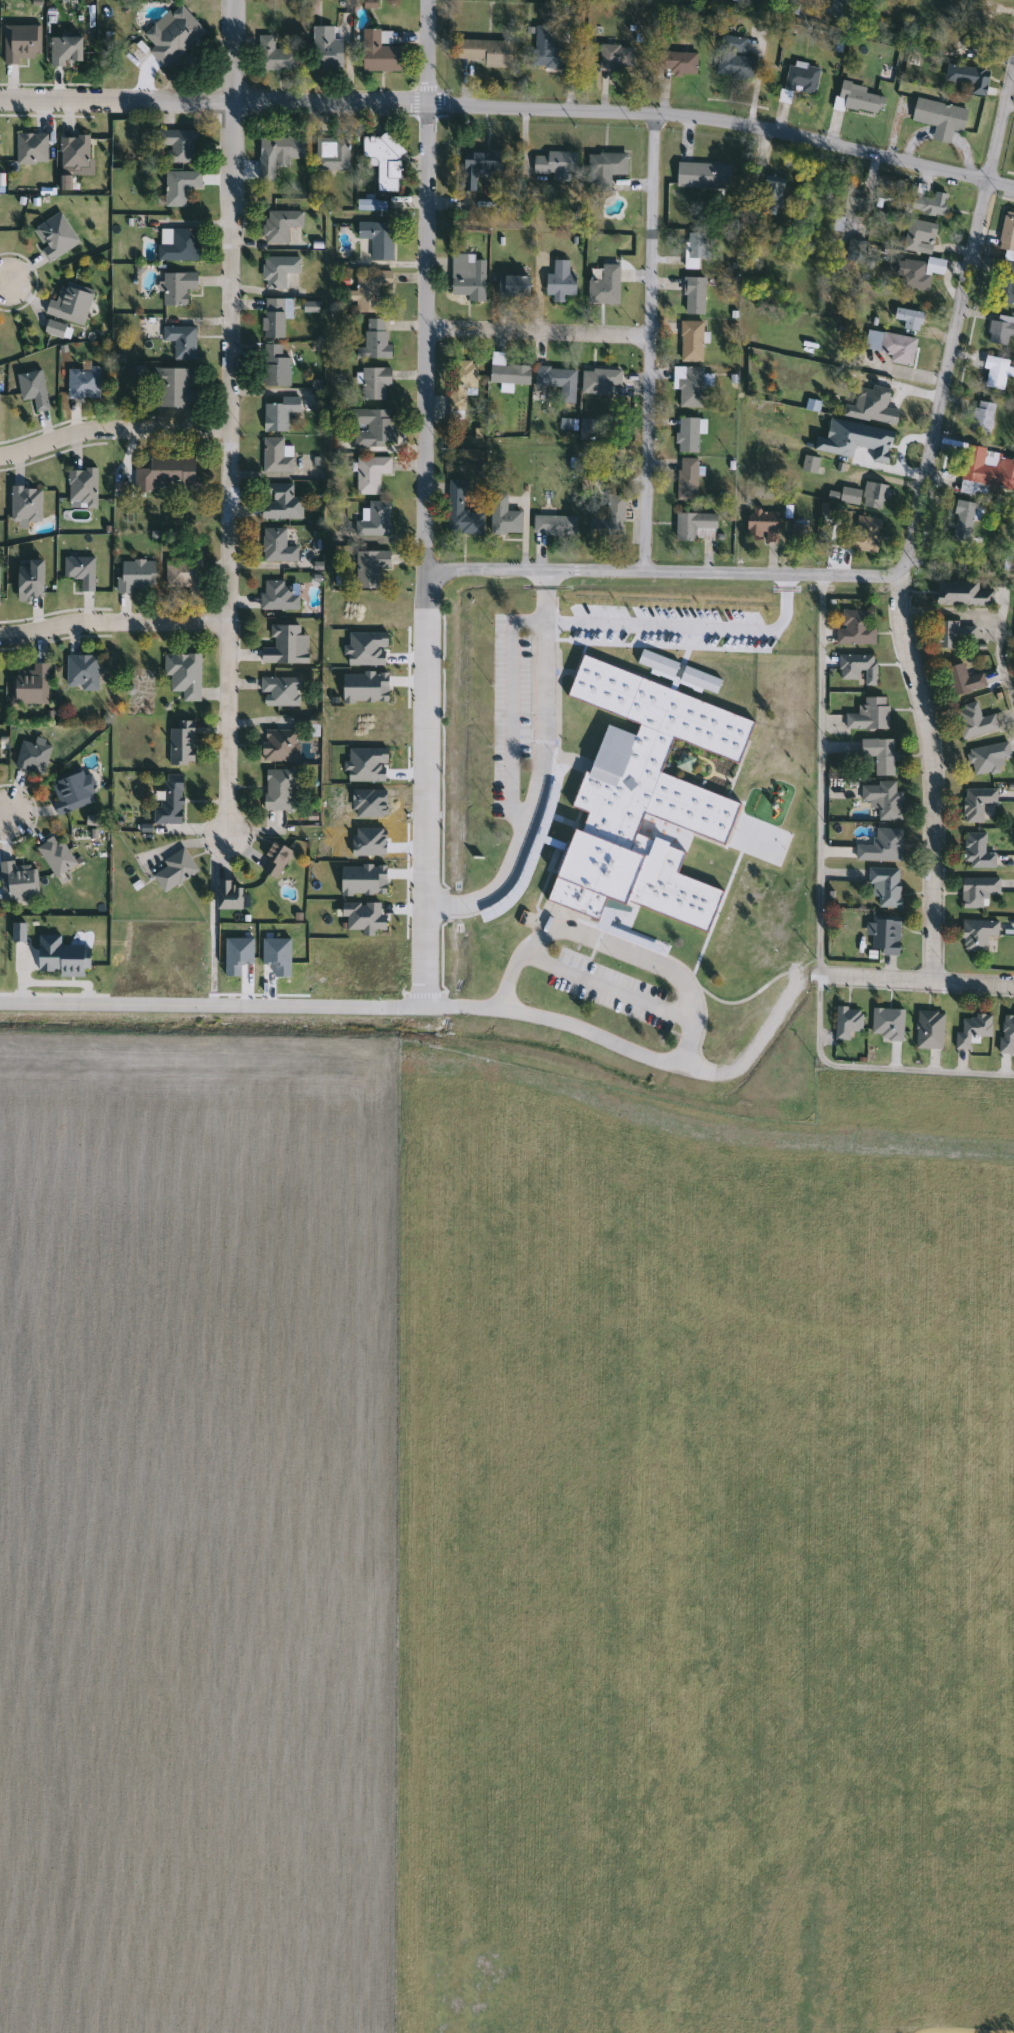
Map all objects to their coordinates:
building: (979, 19)
building: (172, 36)
building: (20, 43)
building: (546, 50)
building: (975, 51)
building: (64, 52)
building: (484, 52)
building: (326, 53)
building: (378, 53)
building: (274, 55)
building: (615, 57)
building: (733, 59)
building: (674, 60)
building: (971, 79)
building: (796, 80)
road: (49, 100)
building: (859, 100)
road: (559, 110)
building: (938, 118)
building: (178, 145)
building: (30, 148)
building: (280, 149)
building: (73, 152)
building: (332, 154)
building: (382, 159)
building: (477, 166)
building: (553, 166)
building: (604, 170)
building: (702, 176)
building: (178, 187)
building: (770, 191)
building: (927, 202)
building: (370, 206)
building: (278, 225)
building: (1007, 232)
building: (917, 236)
building: (53, 237)
building: (376, 239)
building: (176, 245)
building: (693, 251)
building: (277, 271)
building: (915, 273)
building: (467, 277)
road: (7, 281)
building: (1002, 281)
building: (558, 282)
building: (512, 284)
building: (176, 287)
building: (604, 287)
building: (368, 290)
building: (693, 296)
building: (69, 304)
road: (958, 317)
building: (273, 319)
building: (906, 319)
building: (53, 329)
building: (999, 330)
road: (538, 332)
building: (373, 338)
building: (690, 341)
building: (178, 343)
road: (650, 343)
building: (888, 346)
building: (274, 366)
building: (993, 373)
building: (508, 374)
building: (554, 378)
building: (598, 380)
building: (460, 382)
building: (82, 383)
building: (374, 383)
building: (688, 385)
building: (31, 389)
building: (172, 389)
building: (870, 405)
building: (278, 414)
building: (981, 418)
road: (230, 421)
building: (372, 428)
road: (113, 430)
building: (688, 434)
building: (275, 455)
building: (986, 467)
building: (167, 472)
building: (369, 474)
building: (686, 479)
building: (81, 486)
building: (860, 495)
building: (278, 501)
road: (425, 501)
building: (24, 504)
building: (459, 510)
building: (502, 517)
building: (373, 519)
building: (608, 520)
building: (960, 520)
building: (761, 525)
building: (553, 526)
building: (694, 526)
building: (798, 533)
building: (862, 536)
building: (276, 546)
building: (369, 567)
building: (79, 571)
road: (661, 572)
building: (182, 574)
building: (134, 575)
building: (28, 580)
building: (960, 593)
building: (277, 595)
road: (993, 614)
road: (112, 622)
building: (854, 627)
building: (952, 634)
building: (284, 646)
building: (656, 663)
building: (857, 668)
building: (81, 672)
building: (182, 674)
building: (961, 679)
building: (699, 680)
building: (29, 685)
building: (279, 691)
building: (868, 714)
building: (973, 721)
building: (179, 742)
building: (278, 745)
building: (878, 754)
building: (31, 756)
building: (987, 758)
road: (538, 773)
road: (933, 775)
road: (817, 776)
building: (636, 781)
building: (277, 789)
building: (69, 792)
building: (881, 800)
building: (169, 801)
building: (975, 803)
road: (1, 816)
road: (185, 843)
building: (886, 844)
building: (976, 852)
building: (54, 855)
building: (272, 859)
building: (173, 870)
building: (15, 880)
building: (884, 886)
building: (976, 890)
building: (226, 895)
building: (884, 934)
building: (976, 934)
road: (655, 964)
road: (913, 980)
road: (604, 984)
road: (207, 1017)
building: (846, 1022)
building: (887, 1023)
building: (928, 1029)
building: (971, 1031)
building: (1006, 1034)
road: (753, 1050)
road: (874, 1065)
road: (967, 2030)

